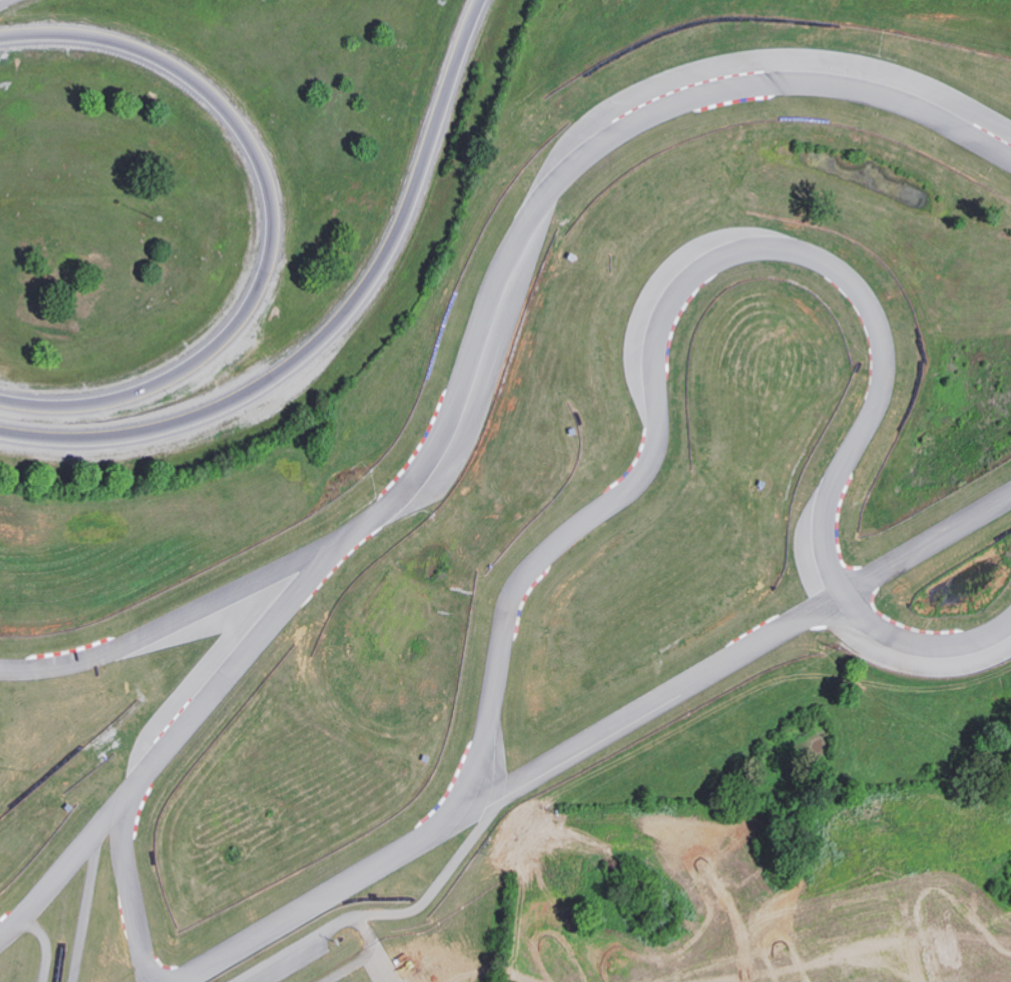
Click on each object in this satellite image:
road: (269, 222)
raceway: (488, 316)
road: (331, 326)
raceway: (646, 376)
raceway: (737, 651)
raceway: (156, 756)
raceway: (131, 879)
raceway: (391, 914)

